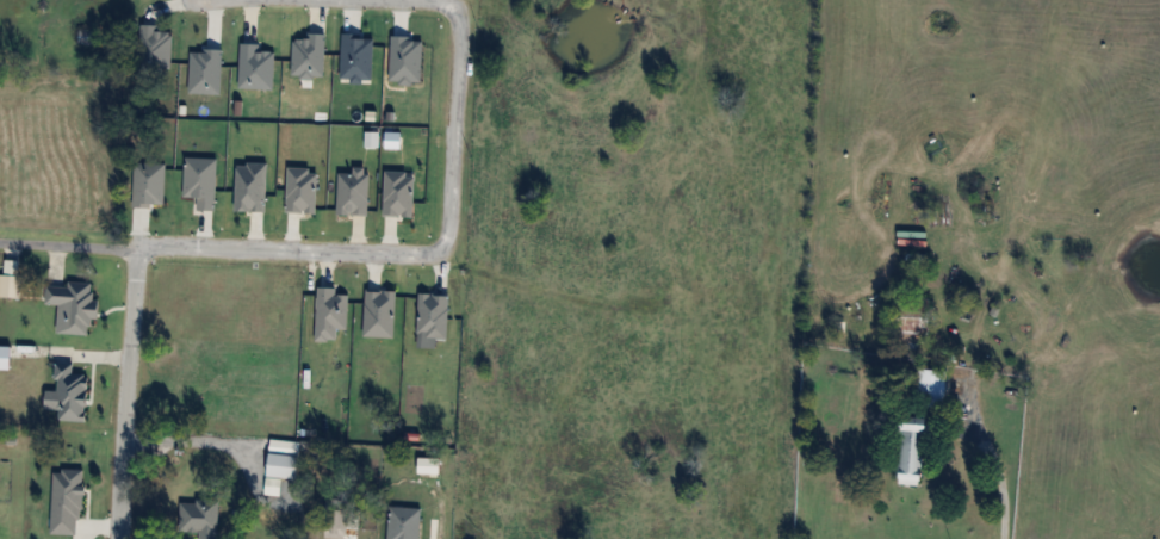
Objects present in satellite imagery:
building: (86, 36)
road: (69, 246)
road: (445, 247)
building: (913, 329)
building: (932, 388)
road: (129, 390)
road: (191, 434)
building: (913, 451)
building: (284, 465)
road: (998, 477)
building: (201, 518)
building: (335, 523)

